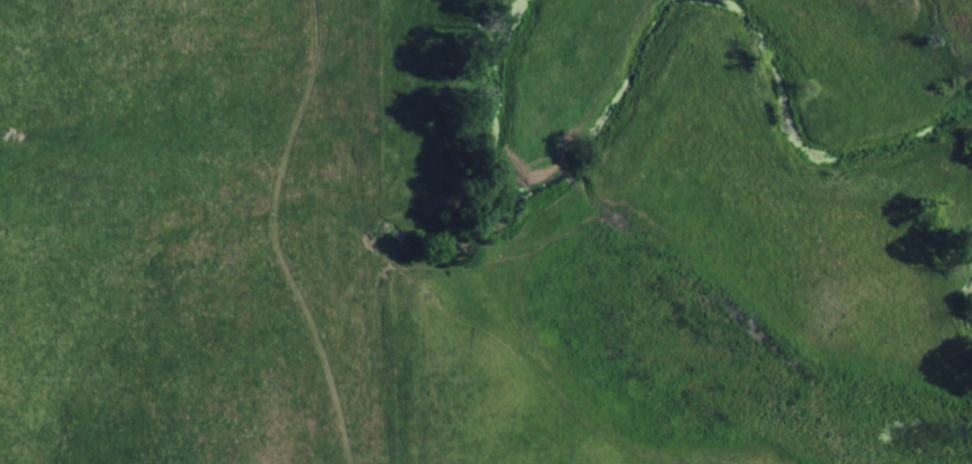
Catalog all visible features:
river: (801, 147)
river: (535, 192)
river: (954, 294)

